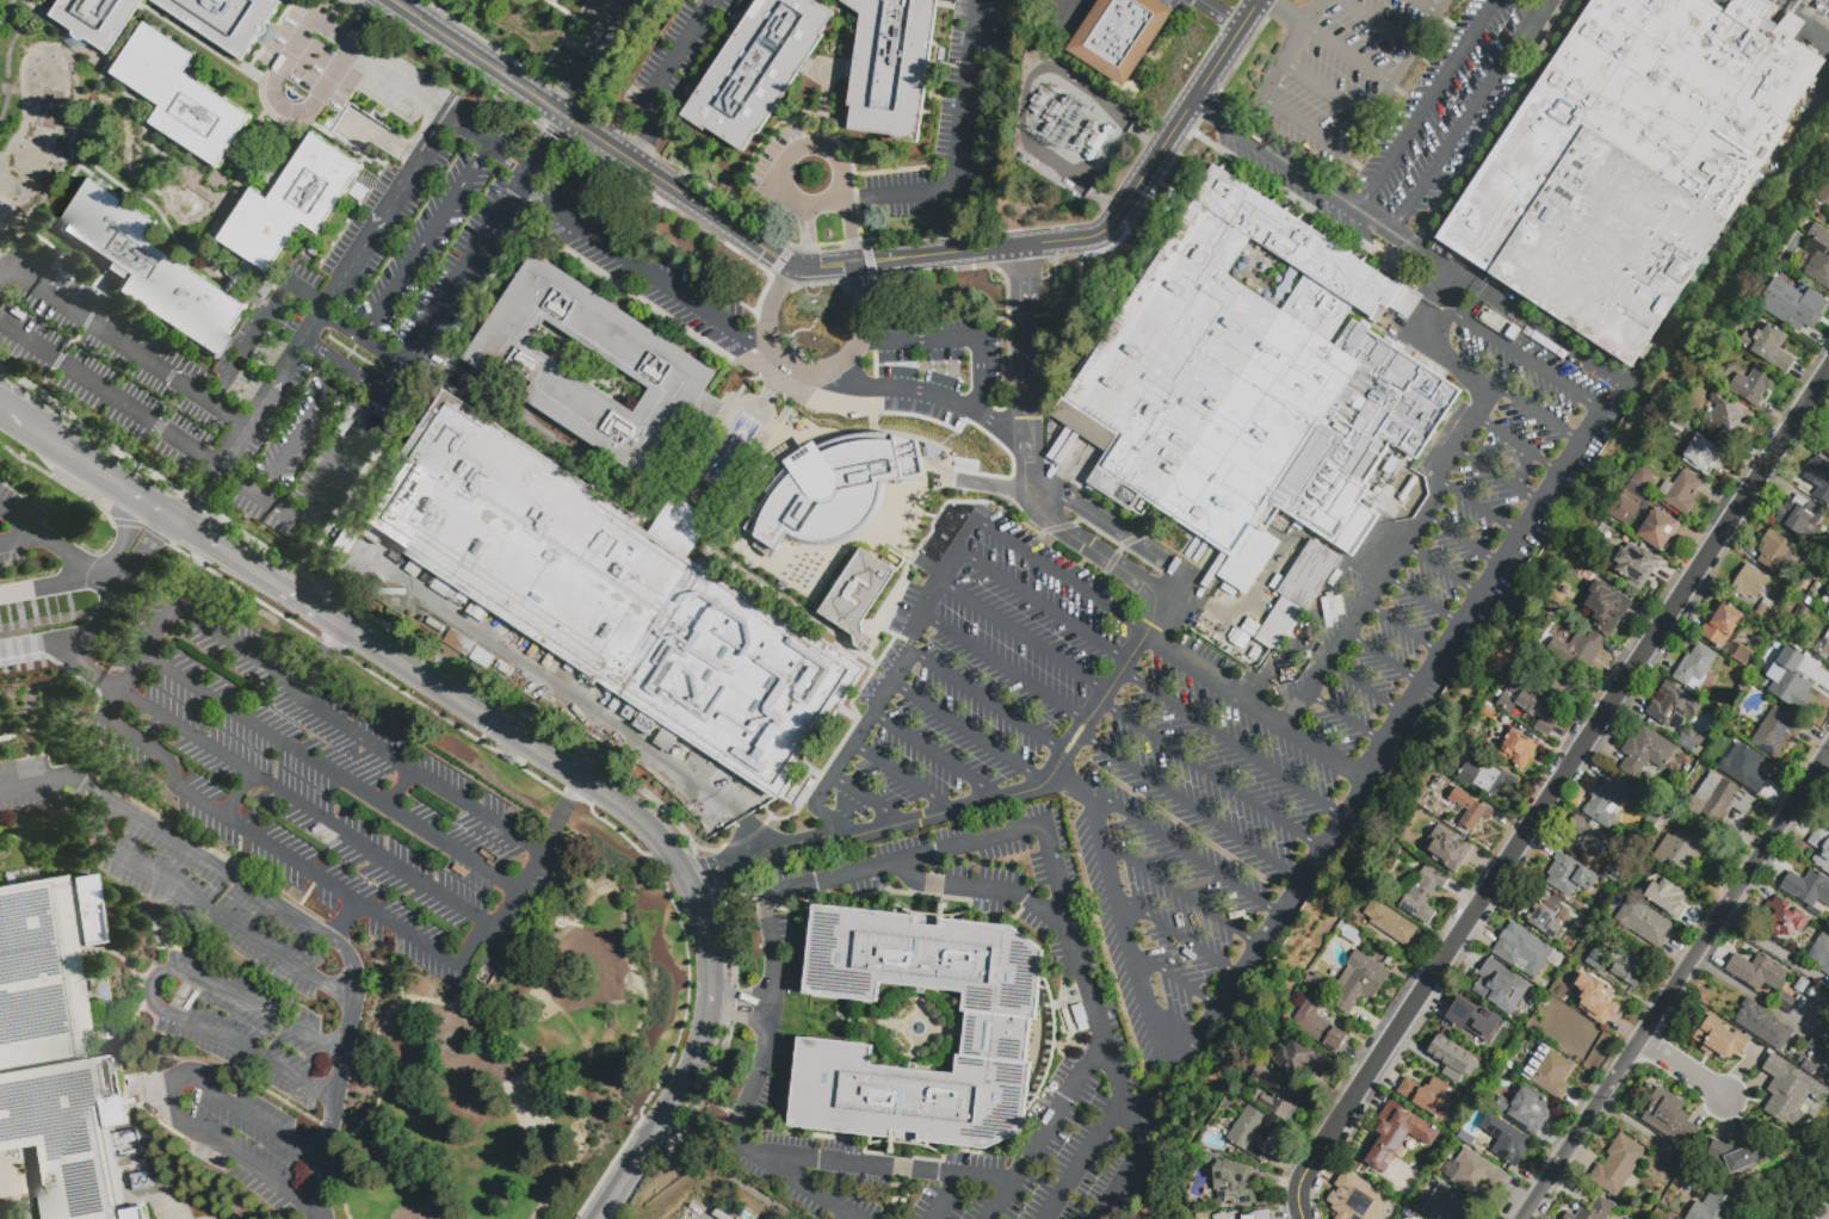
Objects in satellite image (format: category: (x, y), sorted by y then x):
building: (556, 0)
parking lot: (1187, 5)
road: (30, 6)
road: (1426, 7)
road: (6, 8)
road: (1218, 12)
road: (1284, 12)
road: (1067, 13)
road: (334, 14)
road: (44, 16)
parking lot: (1065, 16)
road: (569, 17)
building: (94, 19)
building: (224, 19)
road: (352, 19)
road: (1809, 21)
road: (1377, 24)
road: (333, 35)
building: (1119, 36)
road: (598, 38)
road: (557, 49)
road: (682, 50)
road: (1287, 50)
road: (1348, 55)
building: (891, 66)
building: (755, 69)
fountain: (49, 70)
road: (1396, 79)
road: (400, 81)
road: (1326, 91)
road: (562, 94)
road: (94, 98)
building: (183, 99)
road: (282, 105)
building: (1039, 105)
road: (1427, 105)
road: (1, 115)
building: (1055, 116)
road: (1469, 116)
power substation: (1067, 117)
road: (1300, 129)
road: (650, 132)
building: (1087, 136)
road: (381, 138)
road: (489, 142)
road: (545, 144)
building: (1098, 144)
road: (959, 146)
building: (1635, 162)
road: (249, 165)
road: (1289, 166)
road: (68, 185)
road: (845, 190)
building: (359, 194)
building: (1824, 199)
building: (292, 206)
fountain: (192, 210)
road: (849, 230)
road: (1731, 231)
road: (804, 236)
road: (426, 237)
road: (1420, 249)
building: (1816, 259)
road: (841, 264)
road: (466, 266)
road: (639, 268)
building: (153, 272)
road: (333, 291)
road: (305, 296)
building: (1782, 302)
road: (1024, 304)
building: (1810, 310)
road: (1420, 318)
building: (1828, 320)
building: (1495, 321)
road: (1539, 326)
road: (364, 334)
building: (1514, 334)
road: (957, 336)
road: (70, 340)
road: (121, 341)
road: (249, 344)
building: (1771, 348)
road: (1518, 354)
building: (657, 363)
road: (341, 367)
road: (1466, 369)
road: (817, 372)
building: (1246, 376)
road: (898, 388)
building: (1754, 388)
road: (1026, 394)
road: (109, 395)
road: (1537, 413)
road: (11, 415)
building: (1732, 425)
building: (1677, 427)
road: (1002, 428)
road: (302, 433)
road: (1516, 444)
road: (60, 447)
road: (1028, 447)
building: (1827, 450)
road: (341, 460)
building: (1703, 463)
road: (1496, 475)
road: (159, 478)
road: (60, 481)
building: (1819, 481)
road: (991, 484)
building: (832, 488)
road: (1436, 488)
road: (128, 490)
building: (1685, 496)
road: (199, 497)
road: (259, 497)
building: (1633, 500)
road: (1481, 509)
road: (169, 518)
building: (1800, 519)
road: (21, 522)
road: (1104, 522)
road: (142, 525)
building: (1661, 532)
road: (31, 538)
road: (124, 538)
road: (1462, 540)
road: (10, 542)
building: (1618, 542)
road: (1085, 544)
road: (142, 550)
building: (1775, 552)
road: (72, 555)
road: (340, 558)
road: (1506, 558)
road: (1442, 570)
road: (1051, 571)
building: (1635, 573)
road: (193, 575)
building: (1309, 575)
road: (1174, 584)
building: (1751, 586)
road: (321, 589)
building: (608, 594)
road: (112, 596)
building: (858, 596)
road: (1423, 599)
road: (1033, 601)
building: (1607, 609)
building: (1769, 614)
building: (1828, 615)
building: (1280, 624)
building: (1252, 625)
building: (1723, 626)
road: (1404, 629)
building: (1205, 632)
road: (1022, 636)
building: (1828, 637)
building: (1240, 638)
building: (458, 643)
road: (147, 645)
building: (532, 648)
building: (1303, 648)
road: (1132, 650)
building: (1254, 652)
building: (1580, 652)
building: (1823, 652)
building: (1314, 656)
building: (481, 657)
building: (548, 658)
building: (1744, 658)
road: (320, 660)
road: (1328, 660)
road: (1384, 660)
road: (1002, 662)
road: (85, 666)
building: (1697, 669)
building: (1788, 680)
road: (890, 681)
road: (545, 682)
building: (525, 685)
road: (1366, 687)
building: (1551, 687)
road: (984, 698)
road: (110, 703)
road: (1254, 704)
building: (1673, 706)
building: (1531, 710)
building: (579, 716)
road: (482, 717)
road: (1346, 719)
road: (354, 731)
road: (968, 732)
building: (1777, 735)
road: (1065, 738)
building: (1691, 742)
road: (63, 743)
road: (1231, 743)
road: (1077, 747)
building: (1515, 748)
building: (1470, 753)
road: (934, 754)
building: (1646, 755)
building: (507, 759)
road: (1827, 760)
building: (600, 762)
building: (1745, 771)
road: (330, 772)
building: (1467, 774)
road: (900, 775)
road: (1210, 776)
road: (48, 778)
building: (1494, 781)
road: (1076, 786)
road: (400, 787)
road: (1552, 793)
road: (237, 796)
road: (866, 797)
building: (1639, 797)
road: (568, 798)
building: (1460, 798)
building: (1720, 802)
road: (301, 805)
building: (1605, 806)
road: (1192, 810)
road: (563, 815)
building: (1827, 816)
building: (515, 817)
building: (1476, 818)
road: (896, 822)
building: (1661, 822)
building: (1803, 828)
road: (753, 837)
road: (993, 837)
building: (1587, 837)
building: (1446, 848)
building: (1821, 849)
road: (211, 850)
road: (1184, 850)
building: (1682, 853)
road: (214, 862)
road: (295, 862)
building: (550, 865)
road: (716, 870)
building: (1612, 872)
building: (468, 874)
building: (1570, 877)
building: (1809, 890)
road: (989, 891)
road: (517, 893)
road: (1180, 893)
building: (1421, 893)
building: (1668, 896)
road: (1289, 898)
road: (191, 901)
building: (1544, 915)
building: (1784, 918)
road: (342, 921)
road: (150, 922)
building: (1588, 922)
building: (1645, 924)
building: (1391, 926)
road: (564, 929)
road: (334, 930)
building: (1351, 934)
road: (1176, 935)
road: (1126, 939)
road: (341, 948)
building: (1525, 951)
building: (1821, 955)
building: (1598, 961)
road: (352, 966)
road: (381, 967)
building: (1633, 971)
building: (1760, 974)
road: (342, 976)
road: (1175, 977)
building: (1360, 984)
building: (1800, 984)
building: (1500, 985)
road: (1676, 985)
building: (1317, 986)
road: (152, 989)
building: (1827, 989)
road: (1743, 990)
building: (185, 992)
road: (741, 995)
road: (353, 997)
building: (192, 1001)
road: (342, 1001)
building: (1595, 1001)
building: (1787, 1004)
road: (773, 1013)
road: (740, 1017)
building: (1081, 1017)
road: (568, 1019)
fountain: (916, 1027)
building: (996, 1027)
building: (1763, 1027)
building: (1320, 1029)
building: (1827, 1034)
building: (1460, 1037)
road: (347, 1038)
building: (1719, 1040)
road: (513, 1044)
road: (160, 1050)
park: (514, 1050)
building: (55, 1051)
building: (1821, 1053)
road: (694, 1054)
building: (1451, 1058)
building: (1302, 1062)
building: (1536, 1062)
building: (1810, 1069)
road: (1686, 1072)
building: (1553, 1076)
road: (240, 1079)
building: (1790, 1093)
road: (167, 1094)
building: (1278, 1096)
building: (1431, 1099)
road: (1061, 1107)
building: (1527, 1112)
building: (1664, 1114)
building: (1404, 1131)
road: (334, 1132)
road: (1648, 1133)
road: (326, 1137)
building: (1252, 1137)
building: (1508, 1143)
road: (746, 1152)
building: (1742, 1153)
road: (1086, 1155)
road: (1137, 1158)
building: (223, 1165)
road: (880, 1165)
building: (1619, 1169)
building: (1476, 1174)
road: (624, 1175)
road: (724, 1175)
building: (141, 1181)
building: (1228, 1181)
road: (947, 1196)
building: (1355, 1198)
road: (1003, 1200)
building: (1717, 1202)
building: (1445, 1205)
parking lot: (716, 1206)
building: (1599, 1211)
road: (716, 1212)
building: (688, 1213)
building: (1263, 1213)
building: (1570, 1218)

